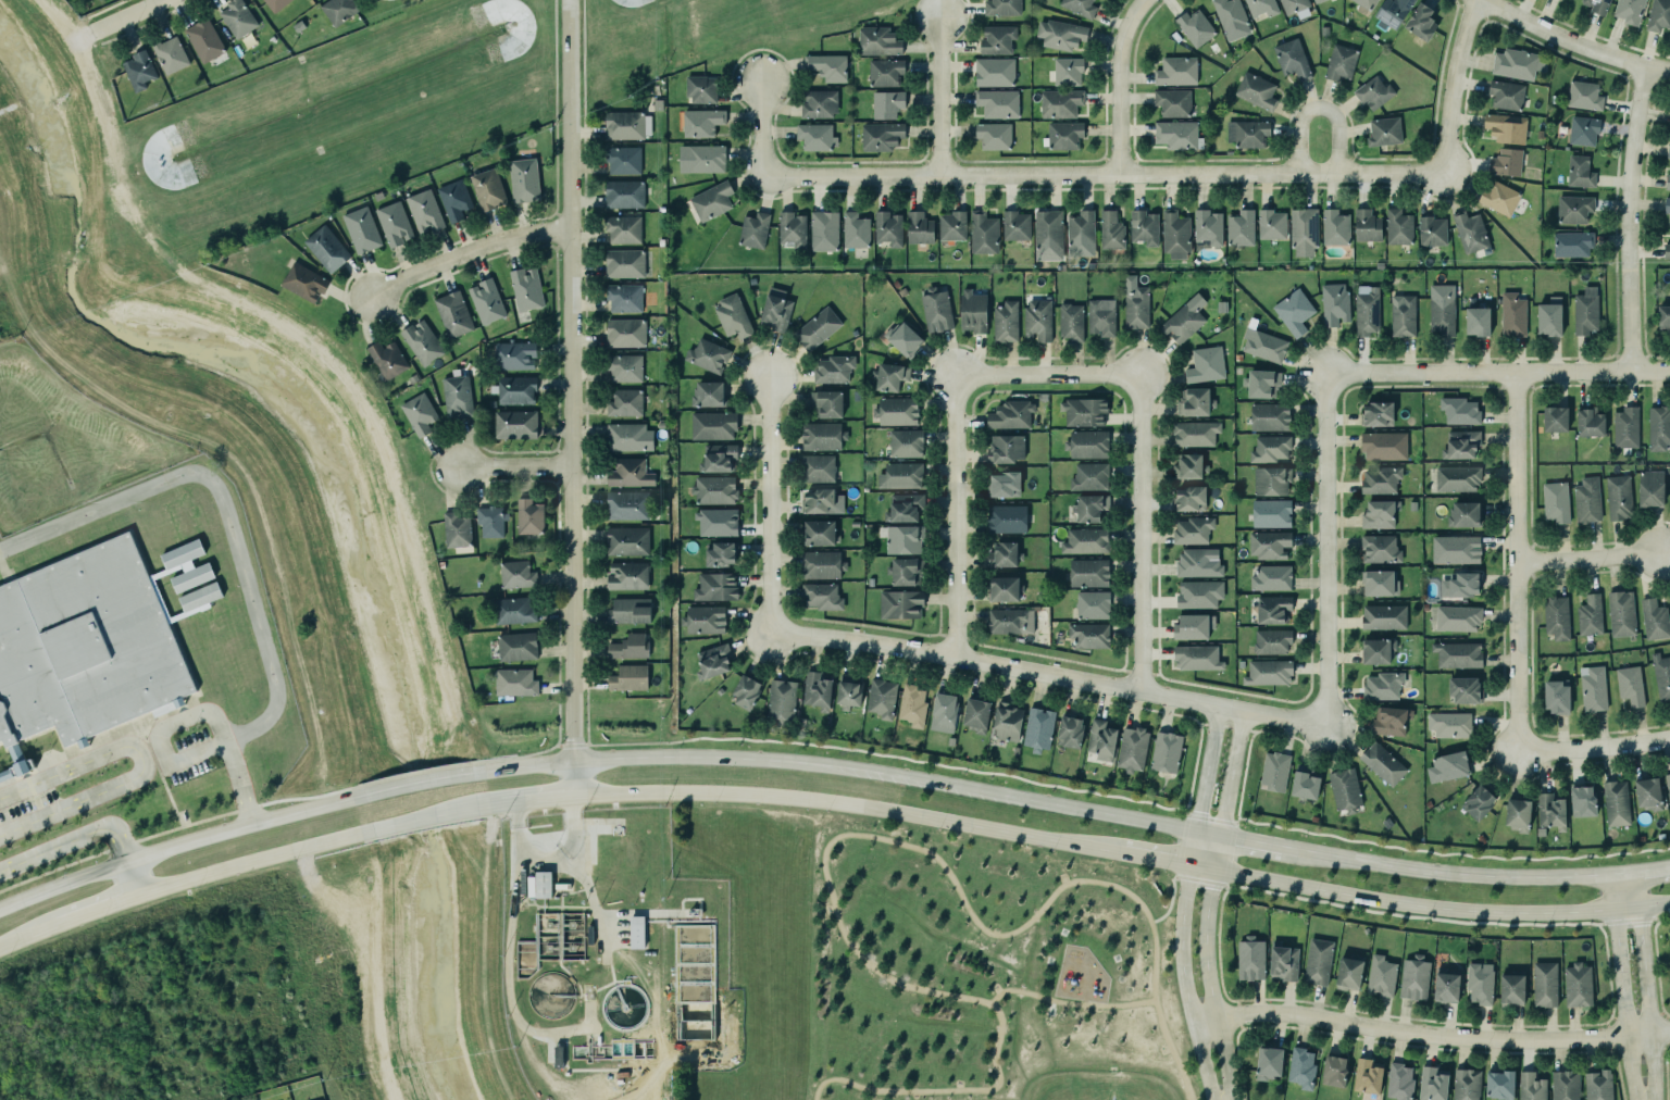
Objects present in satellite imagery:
building: (1318, 1)
building: (275, 3)
building: (1367, 3)
building: (1293, 4)
building: (1596, 5)
building: (1000, 7)
building: (1080, 7)
building: (1261, 8)
building: (338, 9)
building: (1629, 10)
road: (137, 12)
building: (1392, 13)
building: (234, 15)
building: (1658, 15)
building: (1231, 18)
building: (1421, 22)
building: (1194, 26)
building: (1060, 33)
building: (201, 37)
building: (996, 38)
building: (878, 41)
road: (1573, 43)
building: (170, 54)
building: (1291, 58)
building: (1341, 62)
building: (1516, 64)
building: (827, 67)
building: (139, 70)
building: (994, 71)
building: (1174, 71)
building: (885, 72)
building: (1068, 72)
road: (1116, 80)
road: (1448, 80)
building: (701, 89)
building: (1255, 90)
road: (938, 92)
building: (1373, 92)
building: (1506, 95)
building: (1584, 96)
building: (1059, 101)
building: (1171, 101)
building: (818, 102)
building: (997, 103)
building: (887, 104)
road: (1320, 105)
building: (701, 123)
building: (626, 124)
road: (759, 127)
building: (1506, 127)
building: (1384, 130)
building: (1583, 130)
building: (1245, 133)
building: (1064, 135)
building: (1176, 135)
building: (882, 136)
building: (994, 136)
building: (817, 137)
building: (1668, 150)
building: (700, 158)
building: (623, 160)
building: (1506, 162)
road: (1099, 170)
building: (1579, 171)
building: (524, 180)
building: (1667, 182)
building: (488, 189)
building: (624, 195)
building: (709, 198)
building: (1499, 198)
building: (454, 200)
building: (1667, 207)
building: (1572, 208)
building: (424, 212)
road: (1625, 215)
building: (395, 224)
building: (1272, 224)
building: (1366, 224)
building: (1014, 225)
building: (952, 226)
building: (1238, 226)
building: (1144, 227)
building: (1335, 227)
building: (1398, 227)
building: (752, 228)
building: (888, 228)
building: (919, 228)
building: (1207, 228)
building: (362, 229)
building: (623, 229)
building: (793, 229)
building: (1109, 229)
building: (1301, 229)
building: (824, 230)
building: (855, 230)
building: (1432, 230)
building: (1469, 230)
building: (984, 233)
building: (1081, 234)
building: (1175, 234)
building: (1048, 235)
building: (1572, 243)
building: (325, 248)
building: (1666, 250)
road: (464, 252)
building: (623, 262)
building: (304, 282)
building: (526, 288)
building: (624, 298)
building: (486, 301)
building: (1135, 303)
building: (1334, 304)
building: (935, 309)
building: (1442, 309)
building: (775, 310)
building: (1293, 310)
building: (1585, 310)
building: (973, 311)
building: (1367, 311)
building: (1512, 313)
building: (452, 314)
building: (1401, 314)
building: (731, 315)
building: (1099, 315)
building: (1548, 317)
building: (1663, 317)
building: (1037, 318)
building: (1185, 320)
building: (1478, 321)
building: (1006, 322)
building: (1071, 322)
building: (815, 327)
building: (624, 332)
building: (902, 338)
building: (421, 341)
building: (1262, 345)
building: (513, 354)
building: (708, 355)
building: (387, 359)
building: (1205, 363)
building: (625, 367)
building: (833, 367)
road: (1495, 370)
road: (1044, 372)
building: (890, 376)
building: (1260, 382)
building: (514, 389)
building: (709, 393)
road: (576, 395)
building: (457, 397)
building: (1192, 400)
building: (623, 401)
building: (826, 403)
building: (895, 410)
building: (1458, 410)
building: (1084, 411)
building: (419, 413)
building: (1378, 414)
building: (1010, 415)
building: (1270, 416)
building: (1555, 417)
building: (1588, 421)
building: (515, 424)
building: (713, 425)
building: (1625, 427)
building: (1658, 427)
building: (1195, 433)
building: (627, 436)
building: (822, 436)
building: (1086, 442)
building: (906, 443)
building: (1383, 445)
building: (1461, 445)
building: (1006, 448)
building: (1270, 449)
building: (719, 459)
road: (511, 462)
building: (1187, 465)
building: (818, 468)
building: (628, 472)
building: (1088, 475)
building: (900, 476)
building: (1456, 477)
building: (1381, 479)
building: (1271, 480)
building: (1001, 483)
building: (1650, 488)
building: (712, 489)
building: (1619, 497)
building: (1191, 499)
building: (1586, 499)
road: (767, 501)
building: (822, 501)
building: (1556, 502)
building: (625, 504)
building: (1088, 505)
building: (903, 508)
road: (951, 512)
building: (1270, 512)
building: (1378, 513)
road: (225, 514)
building: (1462, 514)
building: (529, 516)
building: (1006, 517)
building: (715, 520)
building: (490, 522)
building: (1193, 529)
building: (457, 530)
road: (1137, 530)
building: (820, 533)
building: (903, 539)
building: (627, 540)
building: (1085, 541)
building: (1268, 542)
building: (1380, 549)
building: (1456, 549)
road: (1324, 550)
building: (720, 552)
building: (1004, 553)
road: (1587, 555)
road: (1513, 559)
building: (1196, 561)
building: (821, 563)
building: (906, 571)
building: (1087, 571)
building: (516, 574)
building: (627, 574)
building: (1269, 576)
building: (1380, 583)
building: (1460, 585)
building: (716, 587)
building: (1005, 589)
building: (1199, 593)
building: (820, 595)
building: (899, 602)
building: (1093, 604)
building: (1273, 609)
building: (630, 610)
building: (513, 611)
building: (1621, 613)
building: (1588, 614)
building: (1556, 616)
building: (1384, 617)
building: (1653, 617)
building: (1458, 618)
building: (705, 620)
building: (1011, 621)
building: (1194, 626)
building: (1089, 635)
building: (1272, 641)
building: (85, 643)
building: (516, 647)
building: (628, 647)
building: (1378, 651)
building: (1458, 654)
building: (1196, 657)
building: (713, 661)
road: (1048, 672)
building: (1269, 673)
building: (1661, 676)
building: (628, 678)
building: (513, 682)
building: (1629, 684)
building: (1381, 685)
building: (1593, 688)
building: (1465, 689)
building: (817, 690)
building: (745, 691)
building: (848, 691)
building: (778, 695)
building: (1557, 696)
building: (882, 698)
building: (910, 704)
building: (943, 708)
building: (976, 714)
road: (190, 717)
building: (1391, 721)
building: (1008, 722)
building: (1449, 724)
building: (1038, 728)
building: (1070, 732)
building: (1100, 739)
road: (1592, 747)
building: (1133, 749)
building: (1166, 752)
road: (661, 759)
building: (1383, 763)
building: (1449, 764)
road: (142, 765)
building: (1274, 771)
building: (5, 776)
road: (419, 780)
building: (1305, 784)
building: (1668, 787)
building: (1345, 789)
road: (651, 791)
building: (1647, 792)
building: (1581, 800)
road: (1027, 801)
building: (1479, 802)
building: (1615, 802)
building: (1551, 811)
building: (1517, 814)
road: (422, 817)
road: (970, 824)
road: (236, 826)
road: (846, 833)
road: (1250, 840)
road: (70, 841)
road: (547, 858)
road: (1152, 859)
road: (248, 862)
road: (1644, 872)
road: (1448, 875)
road: (127, 876)
road: (1173, 877)
road: (1199, 878)
road: (61, 884)
building: (543, 884)
road: (1224, 886)
road: (1249, 887)
road: (1183, 902)
road: (1169, 904)
road: (1209, 904)
road: (1428, 908)
road: (66, 918)
building: (637, 932)
road: (1217, 948)
building: (1249, 958)
building: (1317, 961)
building: (1282, 962)
park: (987, 968)
building: (1347, 973)
building: (1381, 976)
building: (1414, 978)
building: (1479, 983)
building: (1544, 984)
building: (1578, 985)
road: (1644, 985)
building: (1446, 986)
road: (1621, 987)
building: (1512, 989)
road: (1236, 1002)
road: (1068, 1003)
road: (1236, 1014)
road: (1238, 1025)
road: (1430, 1035)
building: (1269, 1063)
building: (1300, 1066)
building: (1333, 1071)
building: (1366, 1076)
building: (1398, 1082)
building: (1432, 1084)
building: (1465, 1084)
building: (1499, 1085)
building: (1565, 1085)
building: (1598, 1085)
building: (1530, 1086)

